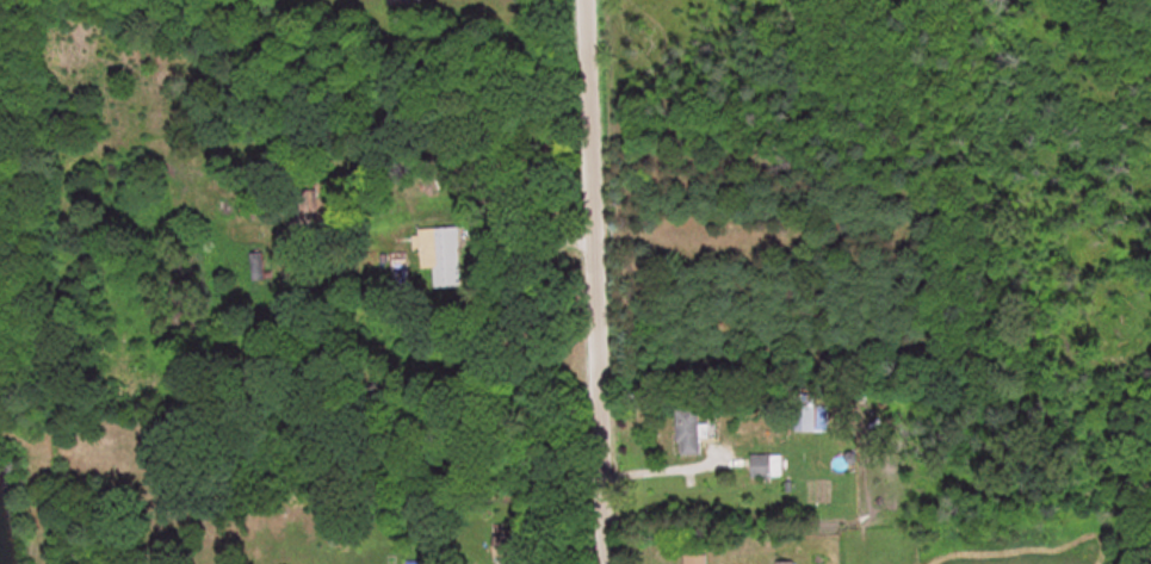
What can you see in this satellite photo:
building: (406, 2)
park: (13, 216)
building: (438, 249)
road: (595, 281)
building: (804, 417)
building: (688, 430)
road: (668, 459)
building: (771, 465)
building: (503, 547)
building: (694, 559)

